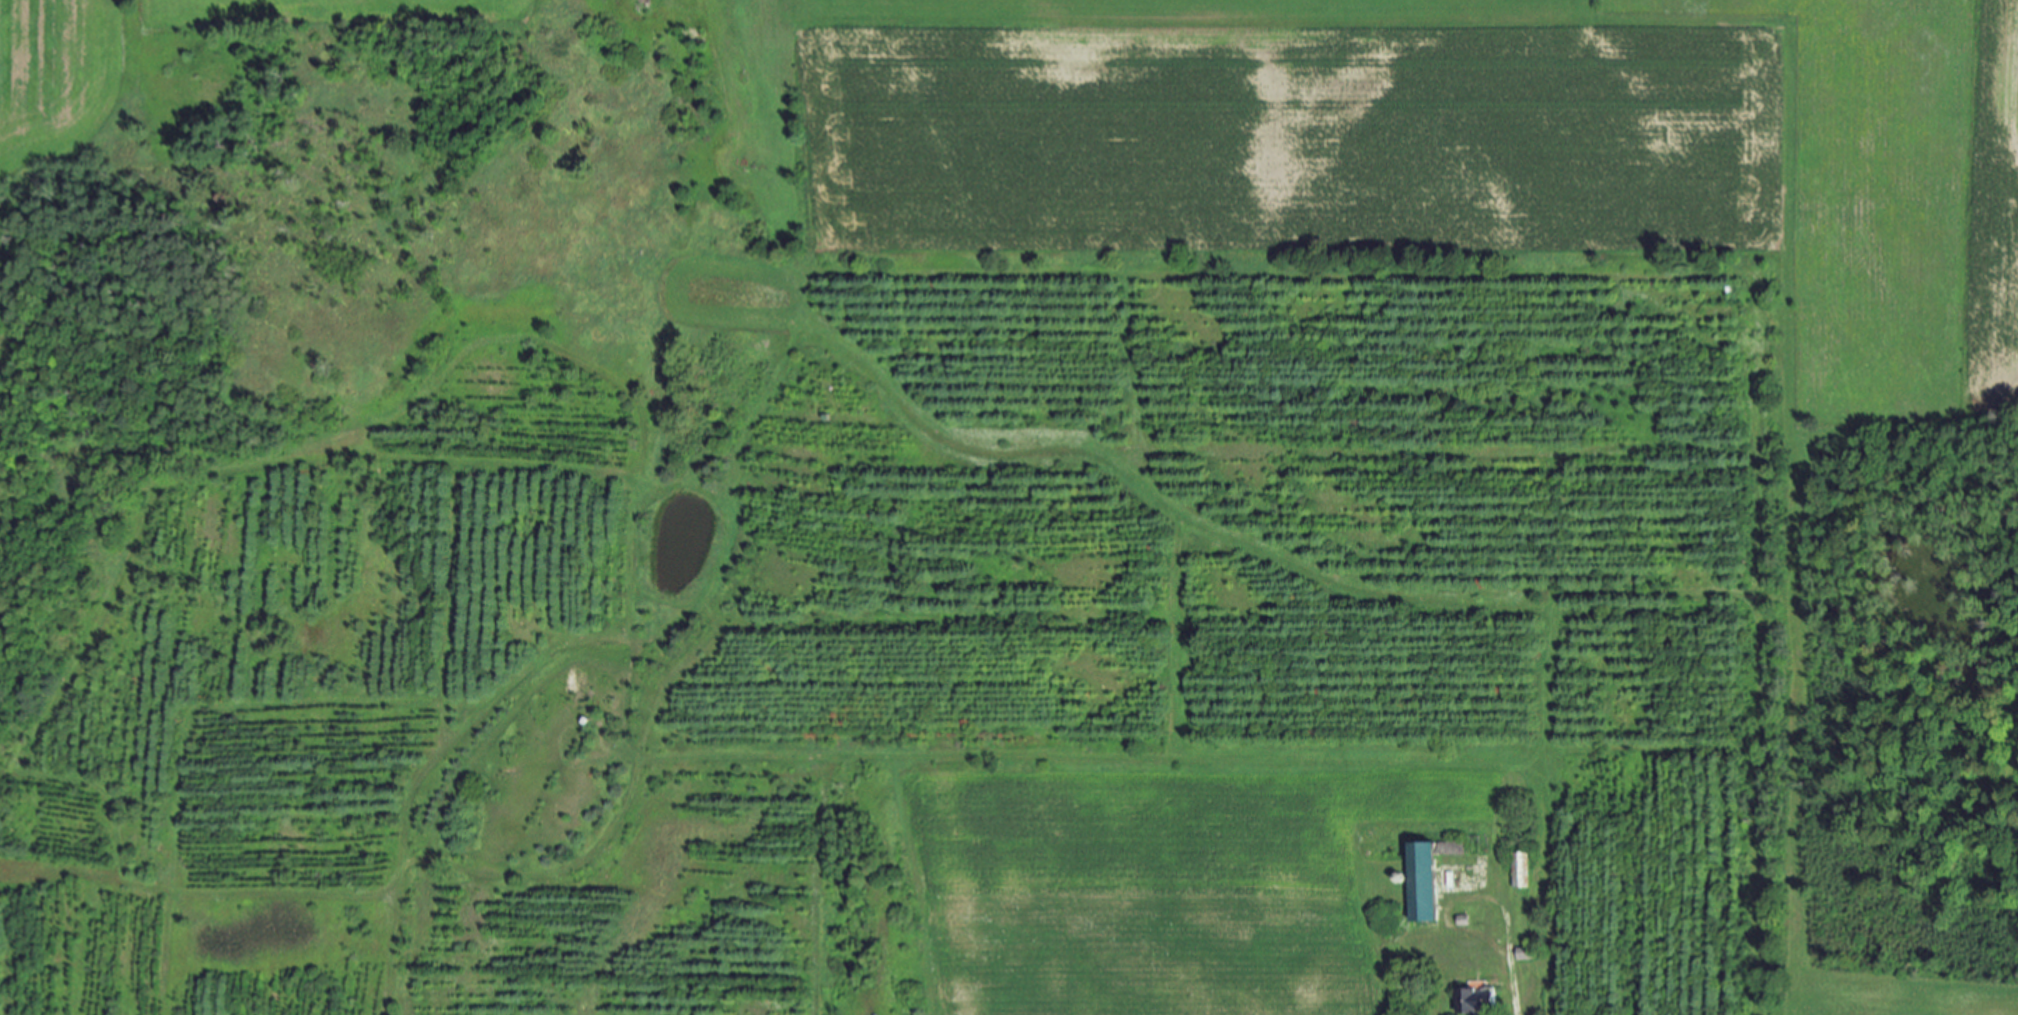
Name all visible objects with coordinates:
building: (1424, 881)
road: (1509, 968)
building: (1477, 999)

